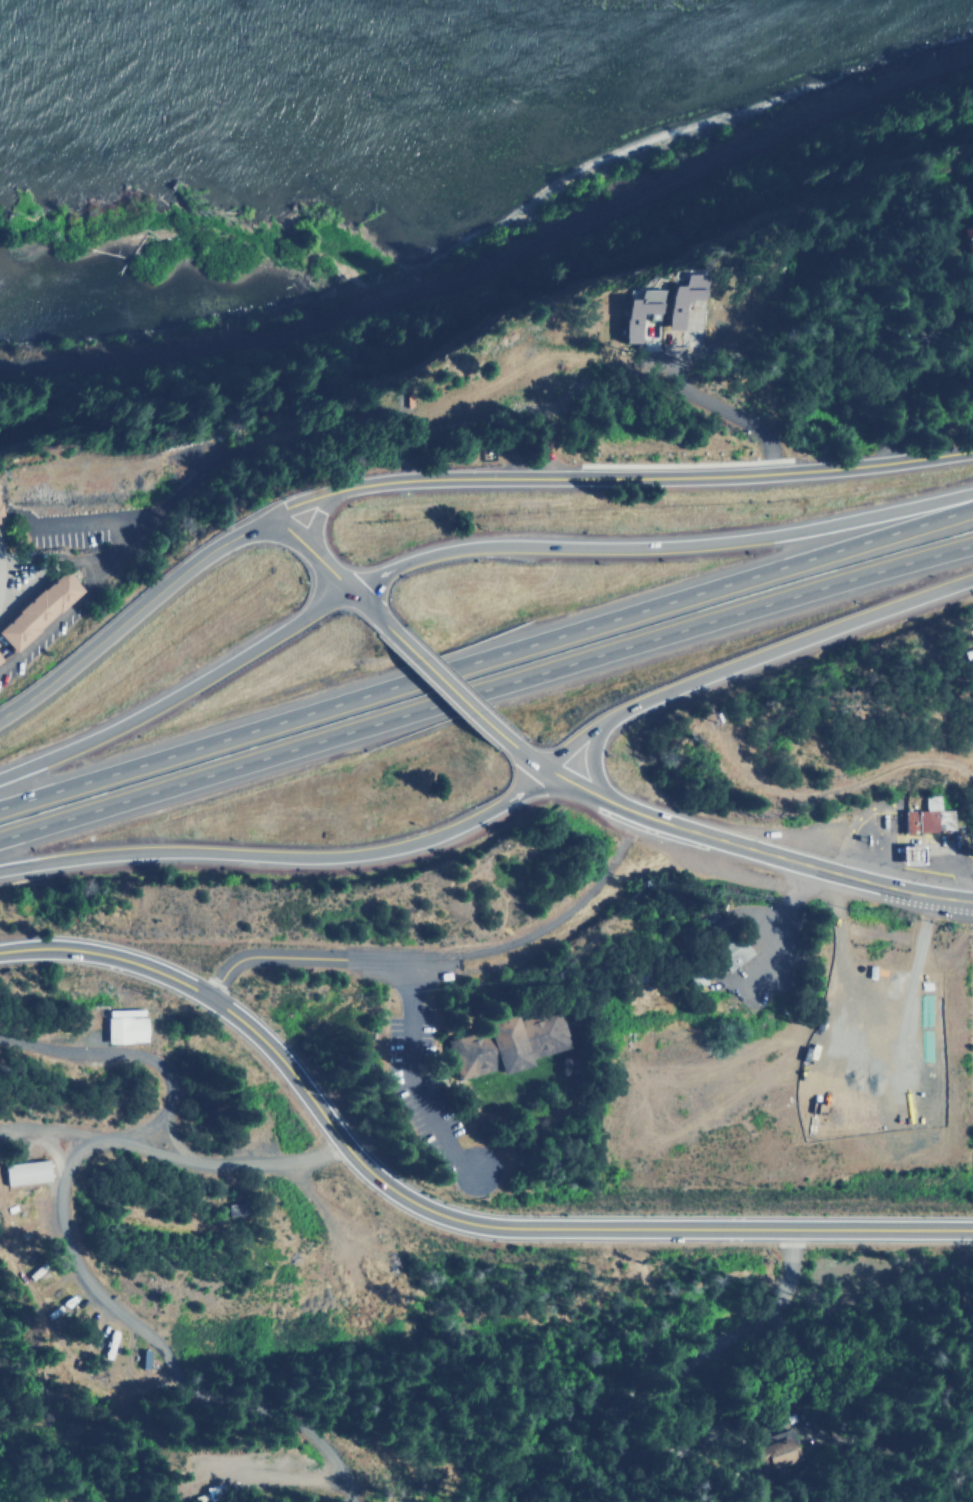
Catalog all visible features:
building: (968, 238)
railway: (496, 257)
building: (678, 302)
building: (632, 311)
road: (725, 413)
road: (624, 476)
building: (2, 508)
road: (323, 516)
road: (661, 546)
road: (315, 548)
road: (369, 603)
road: (137, 609)
building: (42, 610)
road: (749, 655)
road: (486, 656)
building: (2, 660)
road: (447, 682)
road: (485, 686)
road: (181, 689)
road: (525, 754)
road: (589, 759)
road: (571, 783)
road: (619, 807)
building: (927, 816)
building: (911, 852)
gas station: (911, 852)
road: (281, 856)
road: (804, 864)
road: (566, 912)
road: (24, 948)
building: (727, 952)
road: (322, 955)
road: (129, 959)
building: (123, 1026)
building: (502, 1044)
road: (413, 1077)
road: (541, 1228)
road: (67, 1261)
building: (773, 1449)

